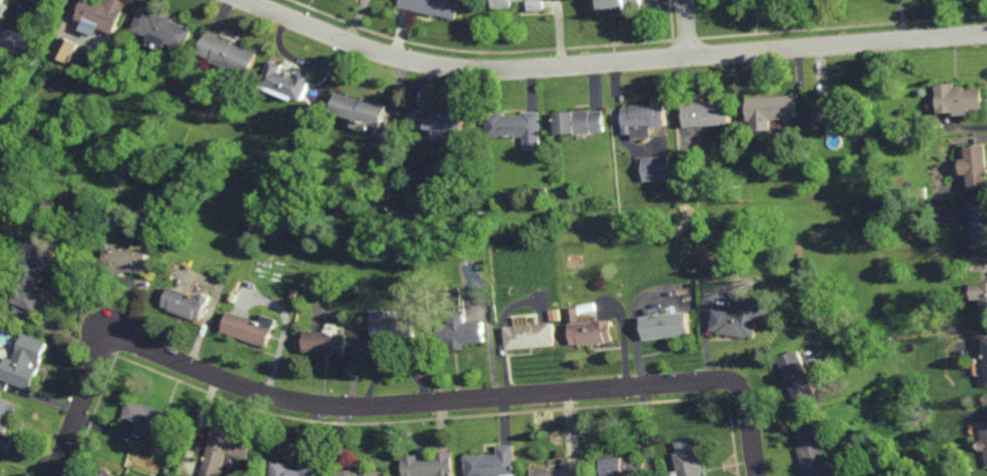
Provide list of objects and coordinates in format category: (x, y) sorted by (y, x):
building: (0, 2)
building: (504, 3)
building: (537, 4)
building: (434, 6)
building: (616, 6)
building: (101, 13)
road: (686, 27)
building: (164, 29)
building: (68, 49)
building: (229, 53)
road: (612, 60)
building: (288, 80)
building: (958, 99)
building: (771, 110)
building: (359, 111)
building: (834, 111)
building: (707, 113)
building: (642, 119)
building: (440, 122)
building: (580, 122)
building: (516, 127)
building: (831, 135)
building: (975, 166)
building: (659, 168)
building: (960, 194)
building: (979, 225)
building: (124, 263)
building: (30, 273)
building: (187, 303)
building: (979, 303)
building: (740, 321)
building: (393, 323)
building: (251, 325)
building: (664, 327)
building: (461, 328)
building: (590, 328)
building: (530, 333)
building: (324, 339)
building: (984, 355)
building: (22, 360)
building: (796, 373)
road: (394, 403)
building: (157, 419)
building: (5, 421)
building: (983, 439)
building: (225, 449)
building: (812, 451)
building: (493, 461)
building: (687, 462)
building: (428, 463)
building: (307, 464)
building: (623, 465)
building: (562, 467)
building: (165, 471)
building: (0, 472)
building: (361, 472)
building: (107, 473)

